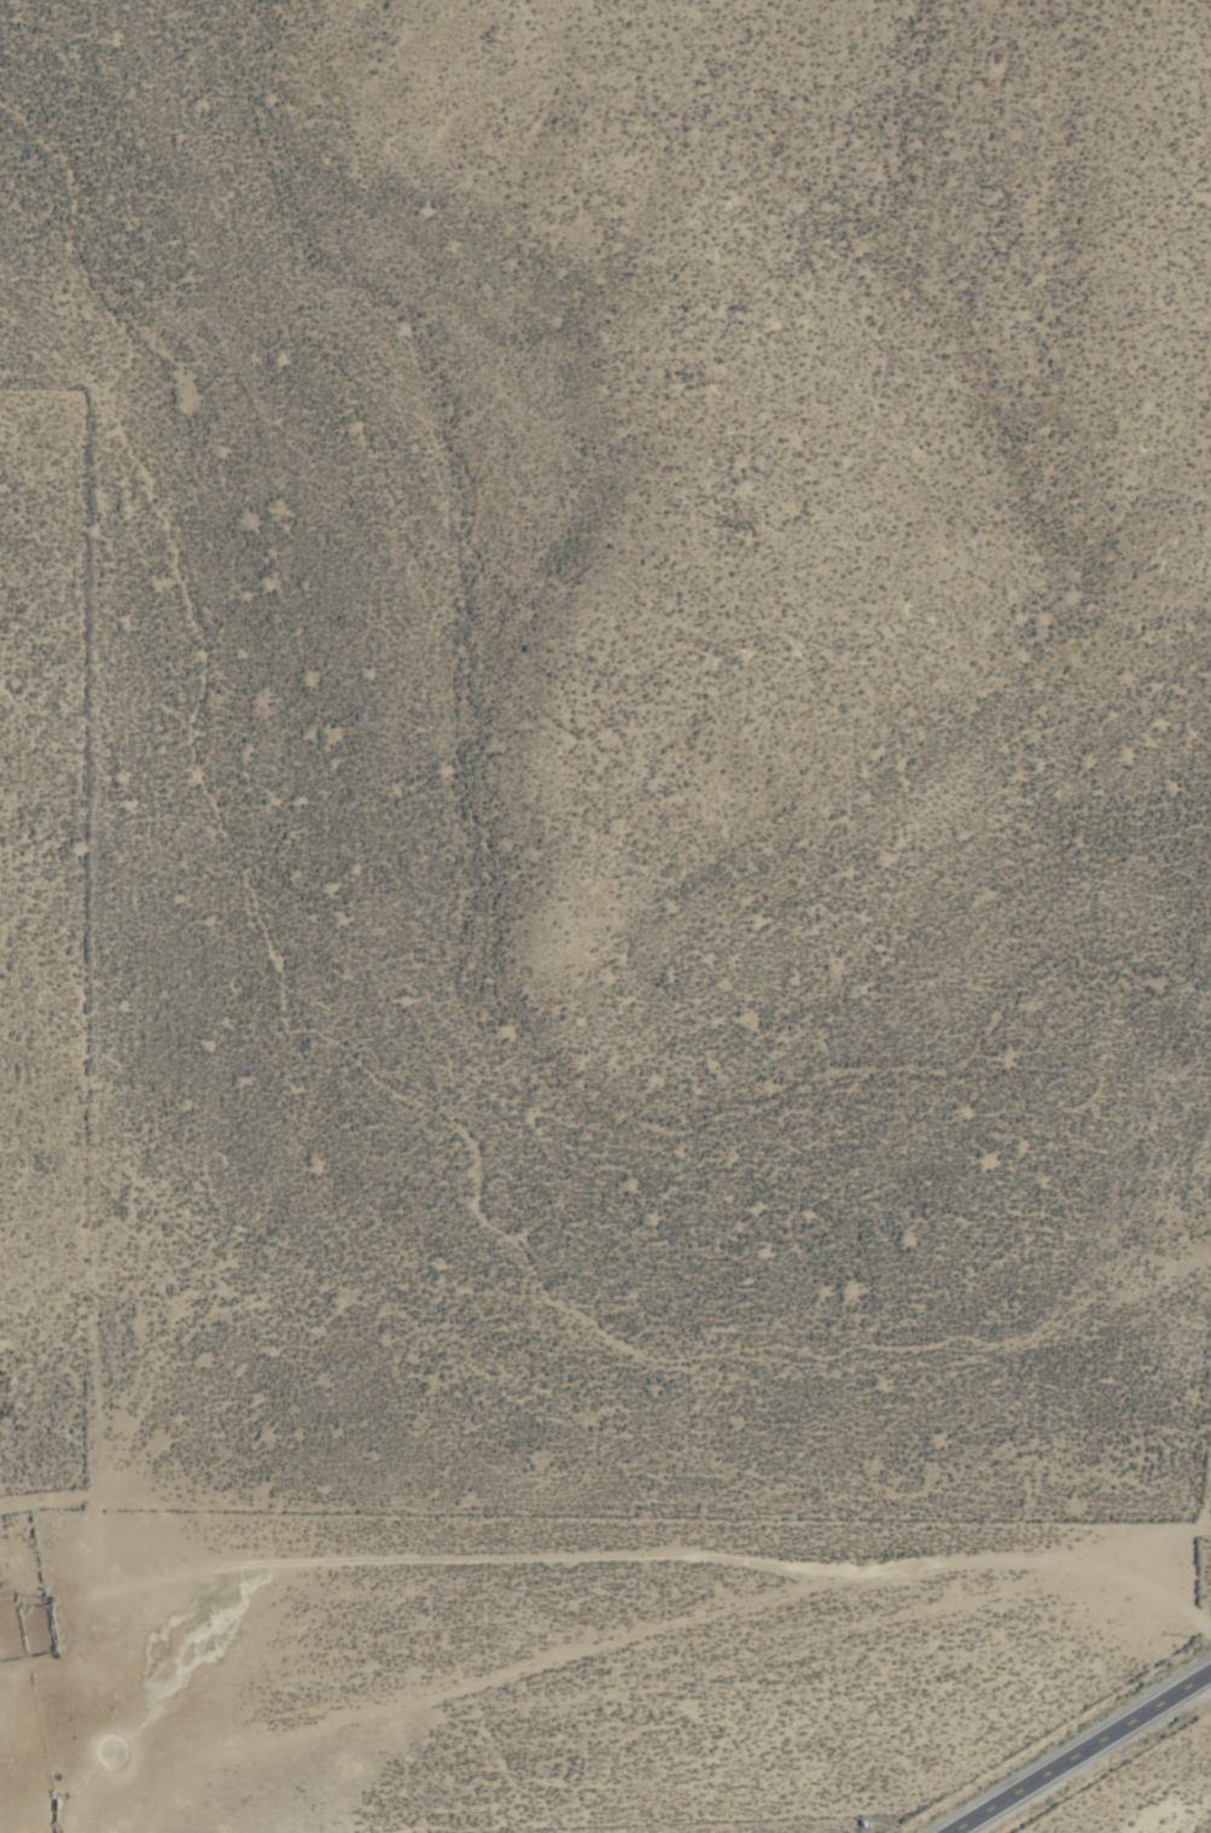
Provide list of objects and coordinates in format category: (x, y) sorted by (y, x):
road: (1081, 1751)
airport runway: (1187, 1817)

